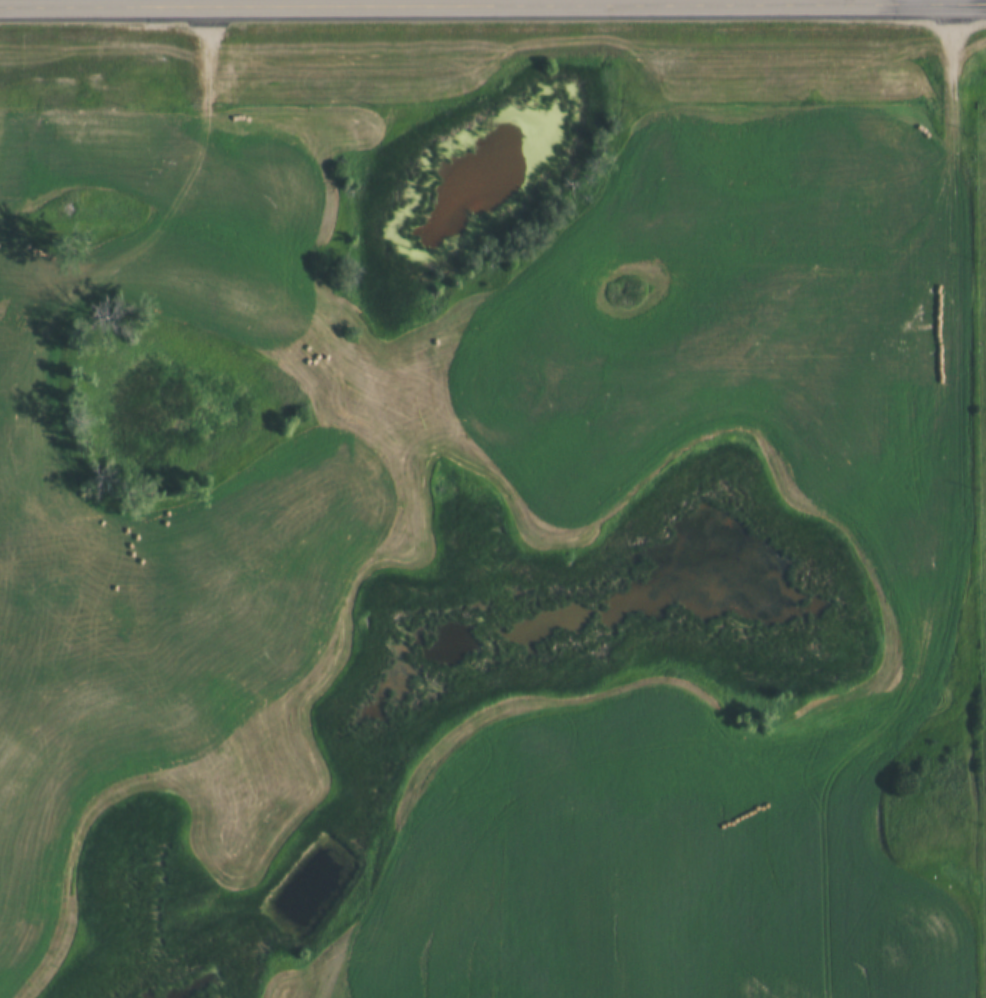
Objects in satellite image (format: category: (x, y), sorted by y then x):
road: (185, 1)
road: (970, 542)

